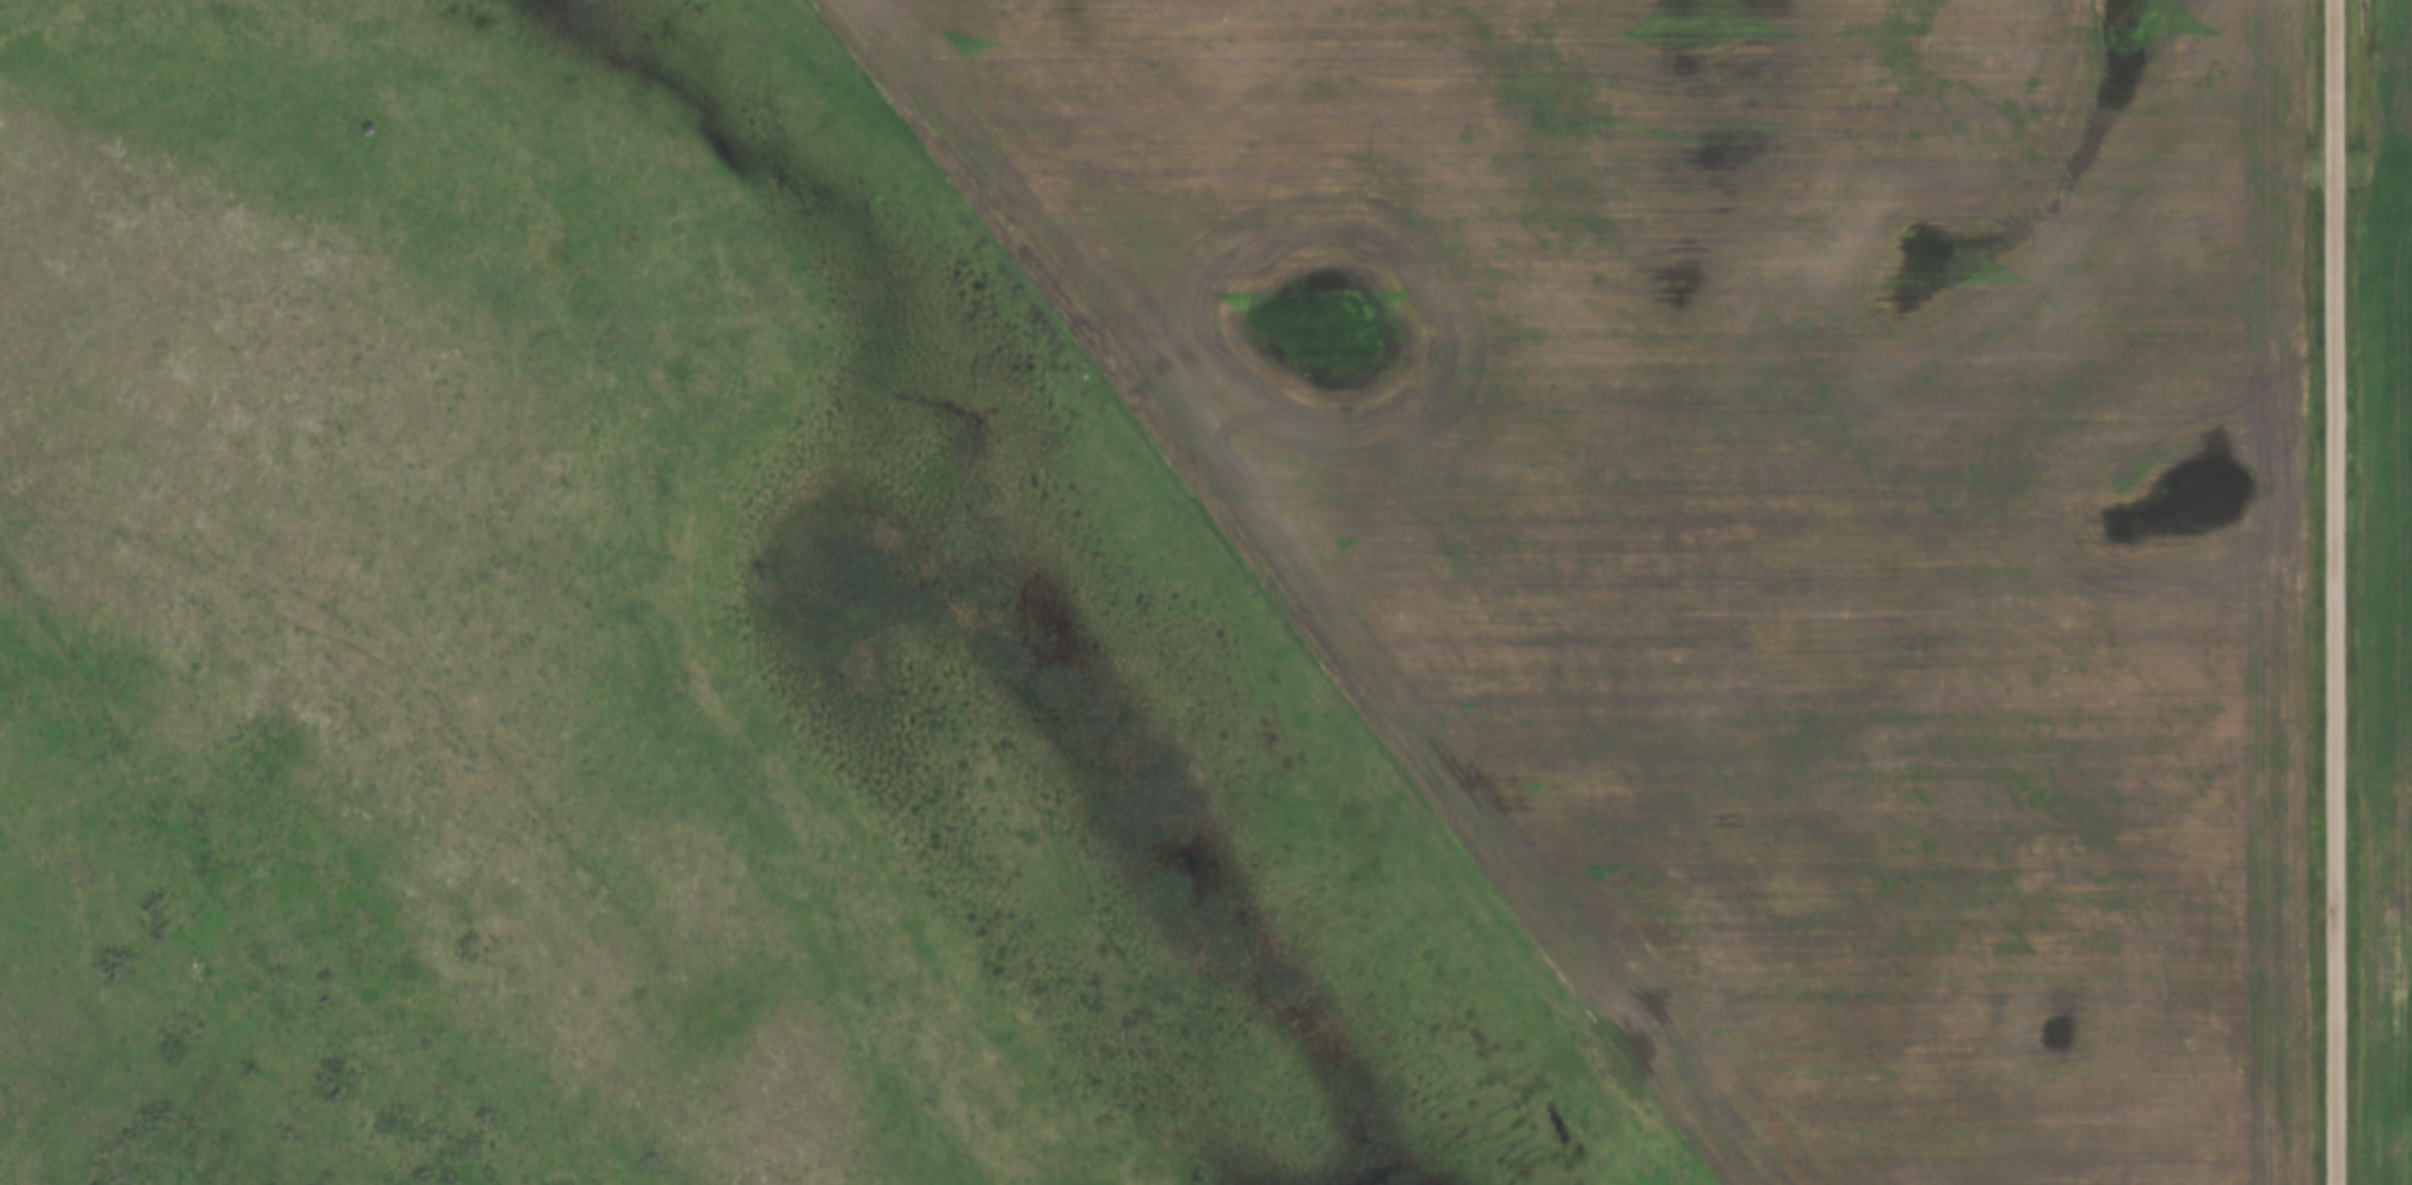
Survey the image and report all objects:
road: (2336, 592)

